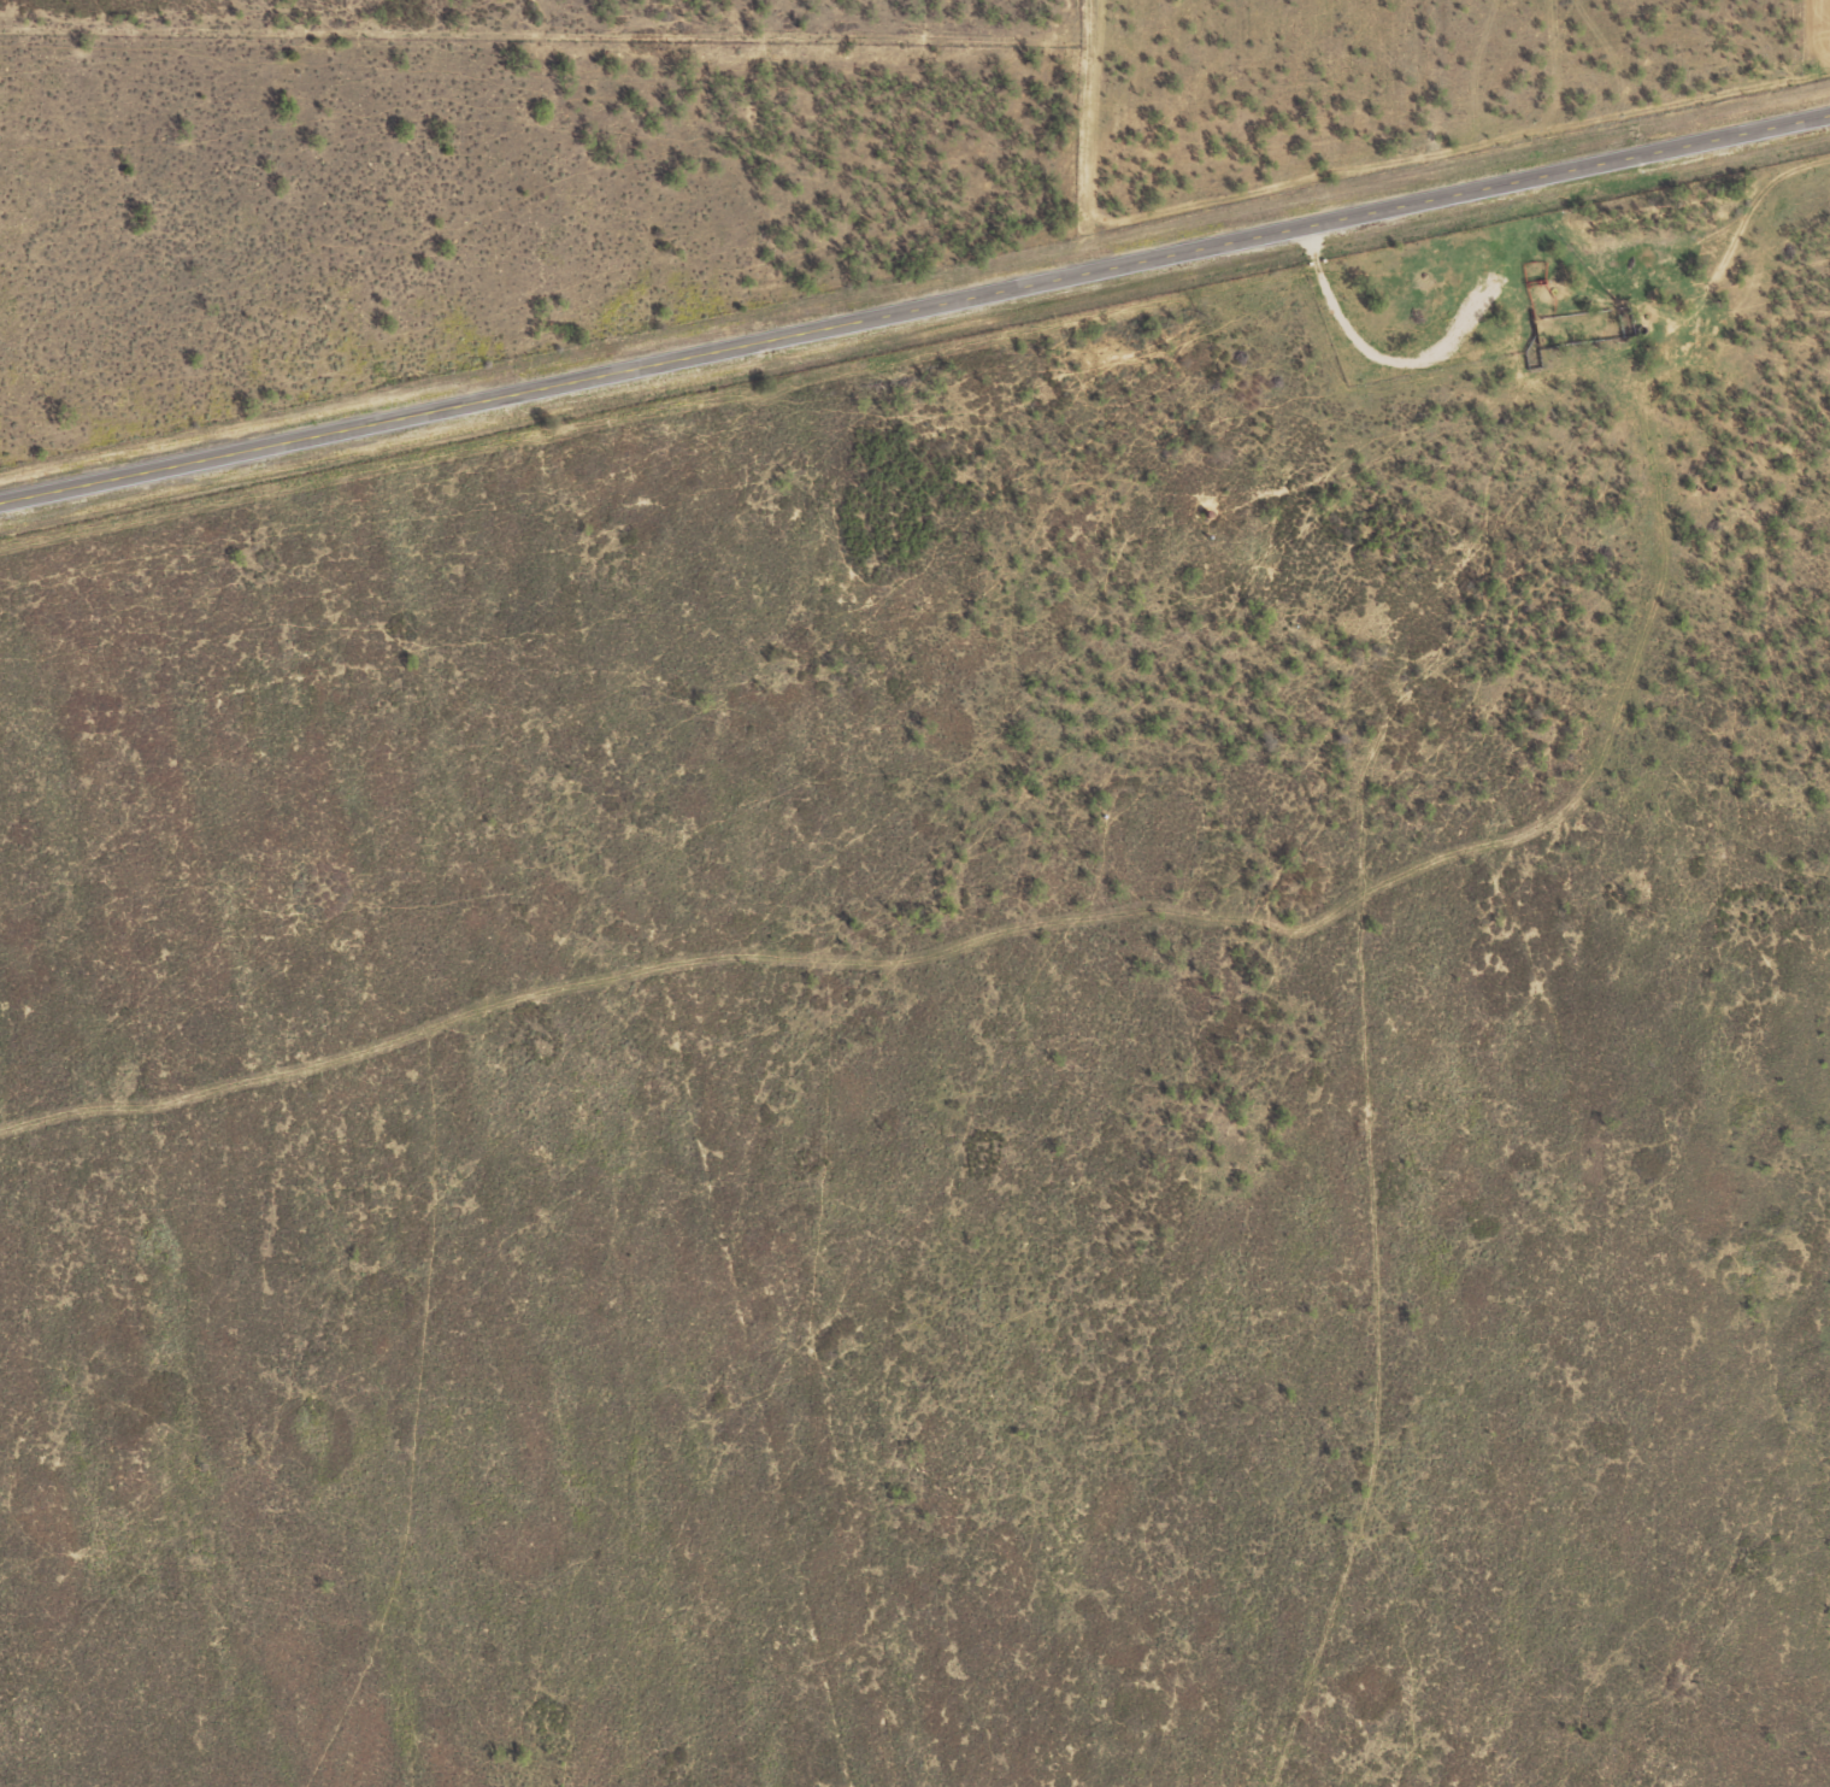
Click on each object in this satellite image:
road: (914, 317)

